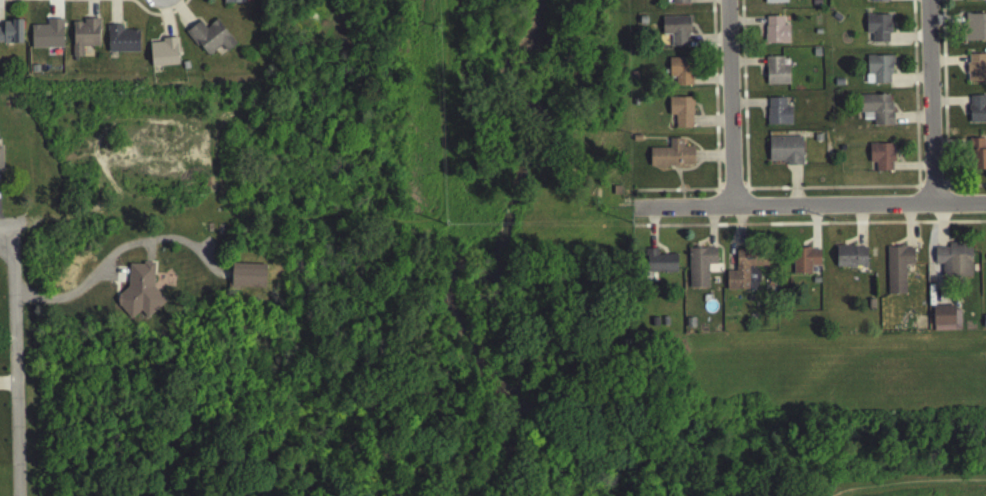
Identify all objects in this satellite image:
building: (974, 1)
building: (879, 2)
building: (233, 3)
building: (680, 3)
building: (775, 3)
building: (878, 30)
building: (975, 30)
building: (676, 33)
building: (775, 33)
building: (11, 35)
building: (47, 38)
building: (84, 39)
building: (210, 40)
building: (121, 43)
building: (163, 56)
building: (976, 71)
building: (878, 72)
building: (680, 73)
building: (776, 74)
road: (931, 101)
road: (732, 102)
building: (876, 112)
building: (977, 112)
building: (778, 114)
building: (681, 115)
building: (784, 153)
building: (977, 157)
building: (672, 158)
building: (881, 160)
building: (0, 161)
road: (811, 204)
road: (124, 223)
building: (850, 260)
building: (804, 263)
building: (954, 263)
building: (659, 265)
building: (699, 269)
building: (897, 272)
building: (746, 273)
building: (247, 279)
building: (139, 294)
building: (945, 321)
road: (405, 335)
road: (16, 362)
road: (211, 364)
road: (251, 388)
park: (509, 392)
road: (191, 437)
road: (803, 441)
road: (564, 449)
road: (149, 467)
road: (239, 469)
road: (913, 486)

